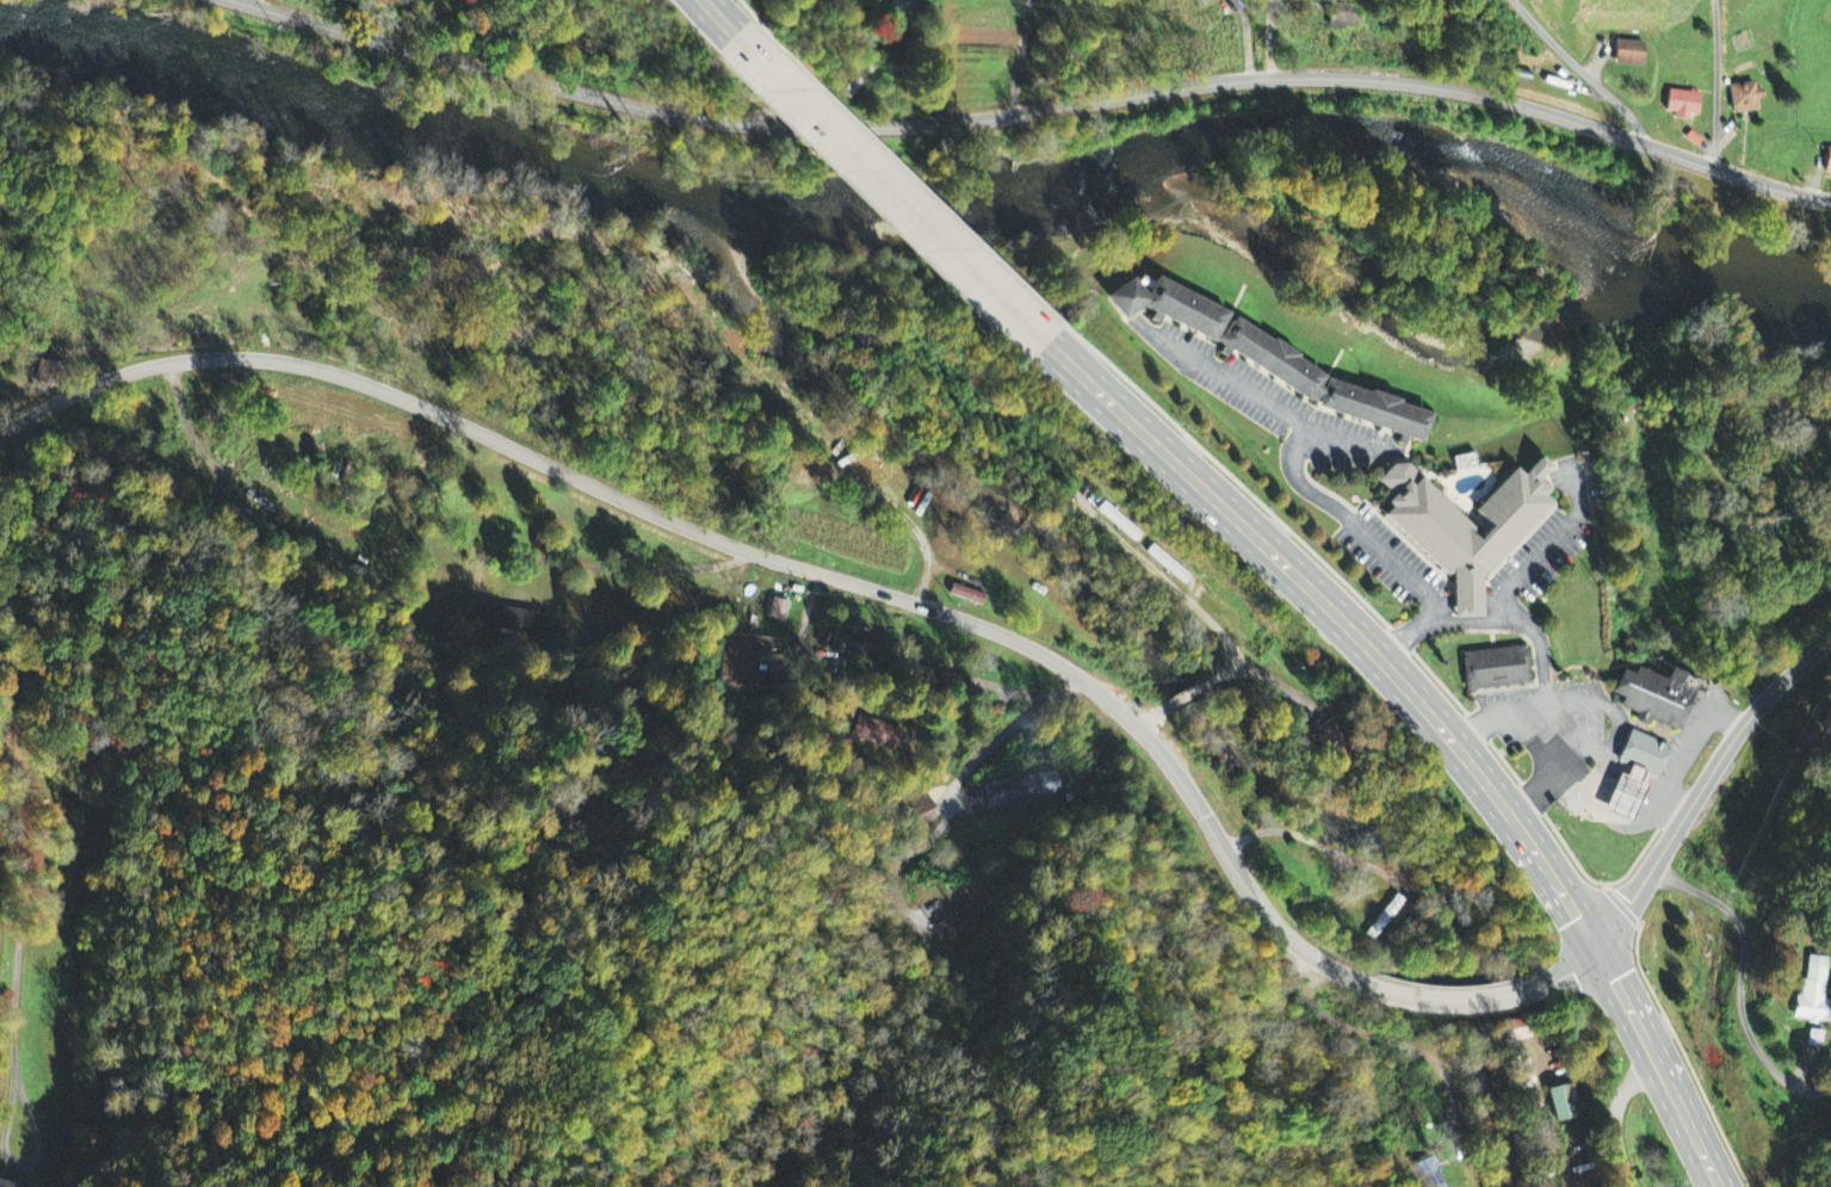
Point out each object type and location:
building: (898, 4)
road: (717, 17)
building: (1346, 17)
building: (573, 37)
building: (1629, 55)
road: (1021, 57)
road: (1582, 73)
building: (862, 76)
road: (1716, 82)
road: (1428, 87)
building: (1744, 99)
road: (616, 101)
building: (1682, 106)
river: (351, 119)
river: (1412, 138)
building: (1830, 175)
road: (886, 188)
river: (929, 191)
river: (1738, 256)
building: (1168, 302)
building: (1270, 357)
road: (1263, 398)
building: (1374, 409)
building: (1465, 519)
road: (1354, 521)
building: (1120, 524)
road: (1552, 543)
road: (741, 548)
building: (1170, 567)
road: (1495, 607)
building: (777, 612)
building: (509, 623)
road: (1344, 625)
road: (1409, 632)
building: (859, 648)
building: (740, 670)
building: (1495, 670)
road: (1544, 694)
building: (1654, 698)
building: (878, 734)
building: (1633, 777)
road: (1706, 785)
road: (957, 790)
building: (1022, 791)
building: (922, 810)
road: (18, 851)
building: (1386, 920)
building: (960, 926)
traffic signals: (1601, 946)
road: (1579, 967)
road: (1740, 982)
building: (1814, 994)
road: (1462, 1001)
building: (1815, 1040)
road: (1660, 1067)
building: (1561, 1105)
road: (1614, 1115)
building: (18, 1183)

